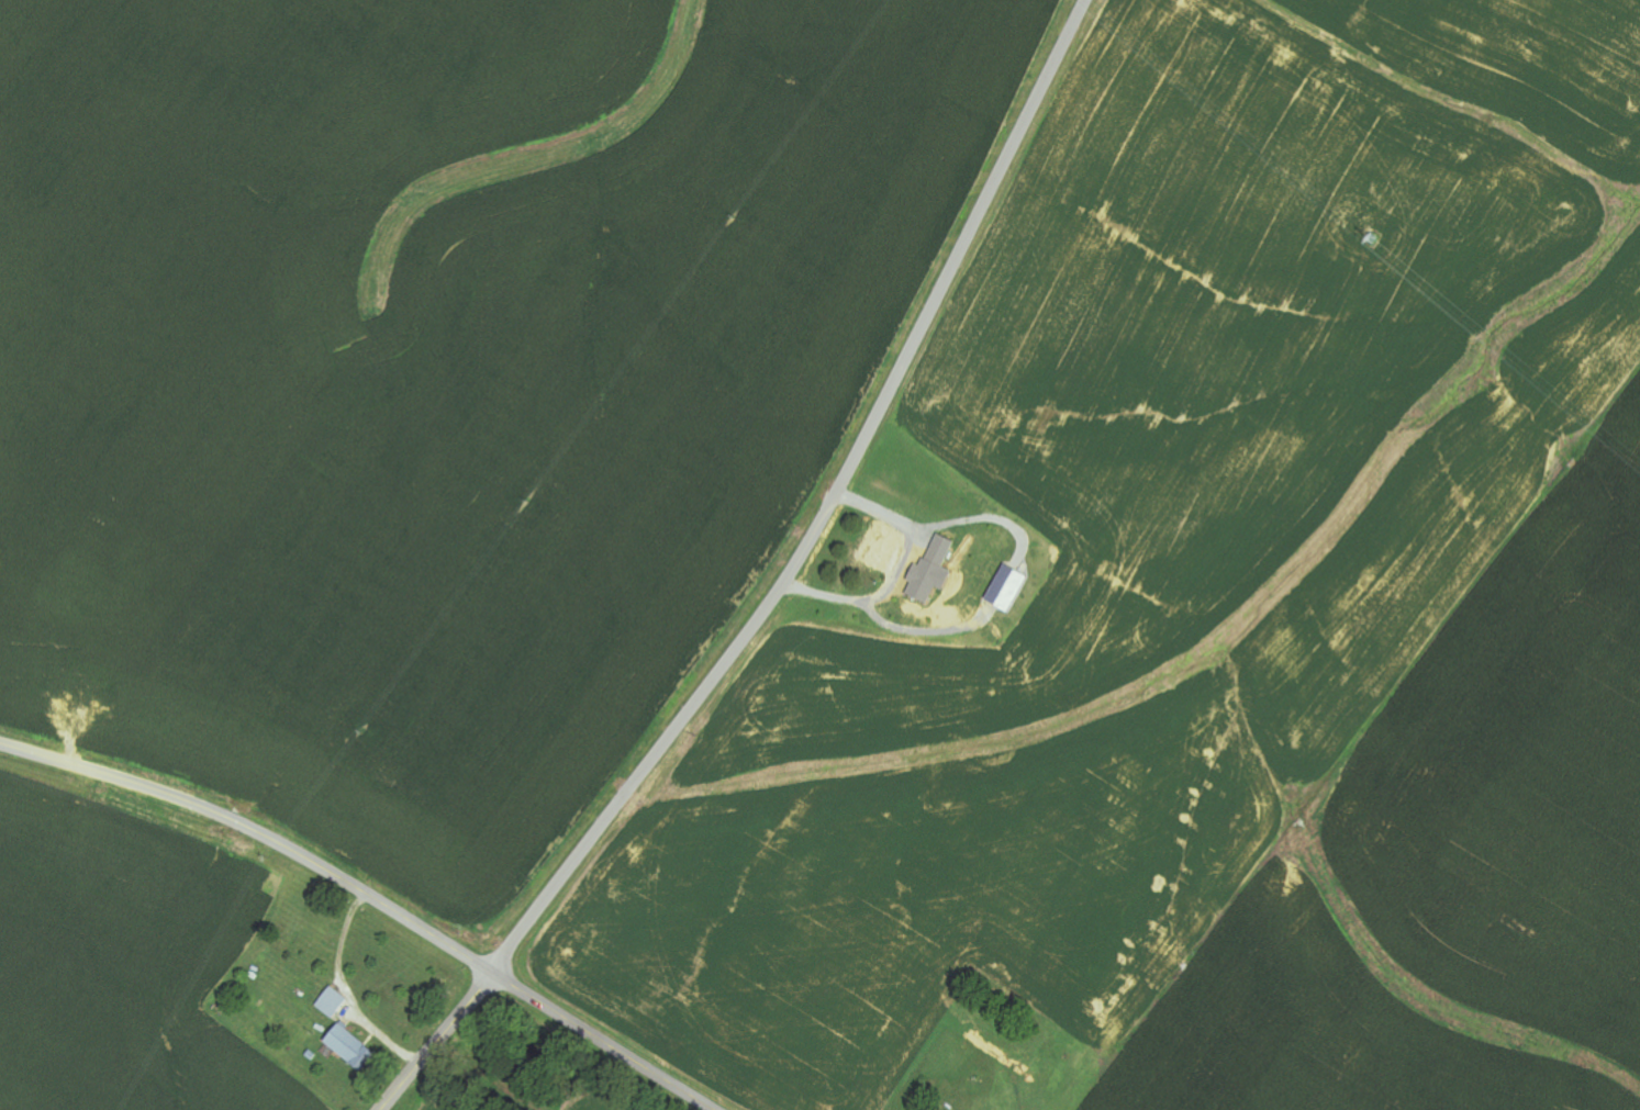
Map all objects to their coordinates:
road: (825, 508)
building: (890, 551)
building: (933, 571)
building: (1008, 587)
road: (370, 897)
building: (333, 1004)
road: (438, 1042)
building: (352, 1047)

